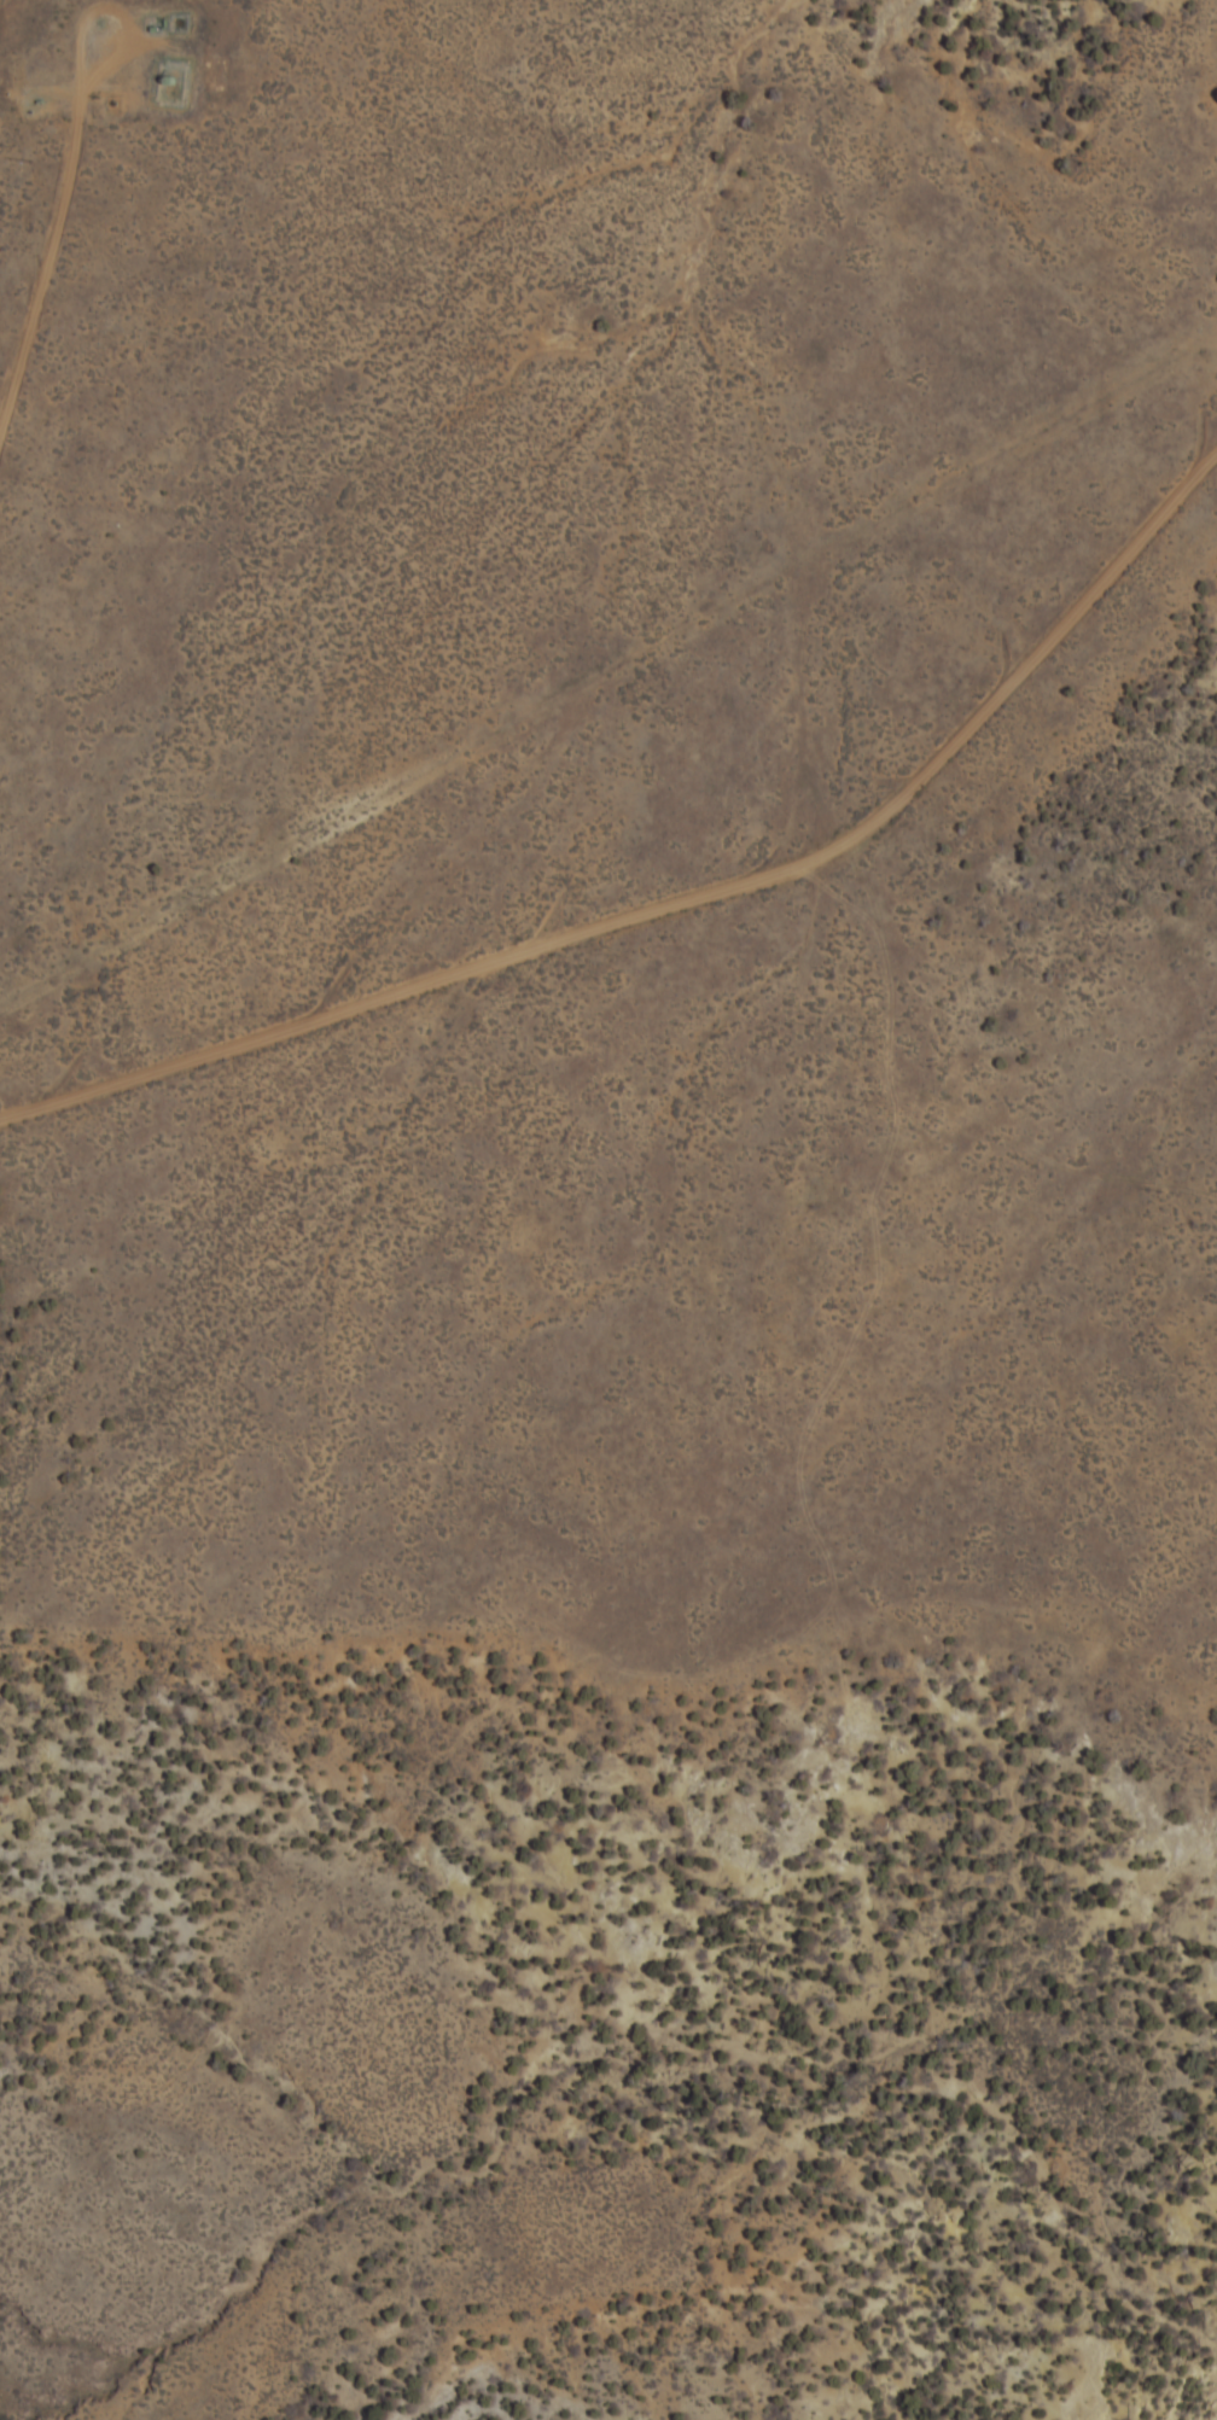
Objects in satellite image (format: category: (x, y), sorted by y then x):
road: (47, 262)
road: (677, 946)

